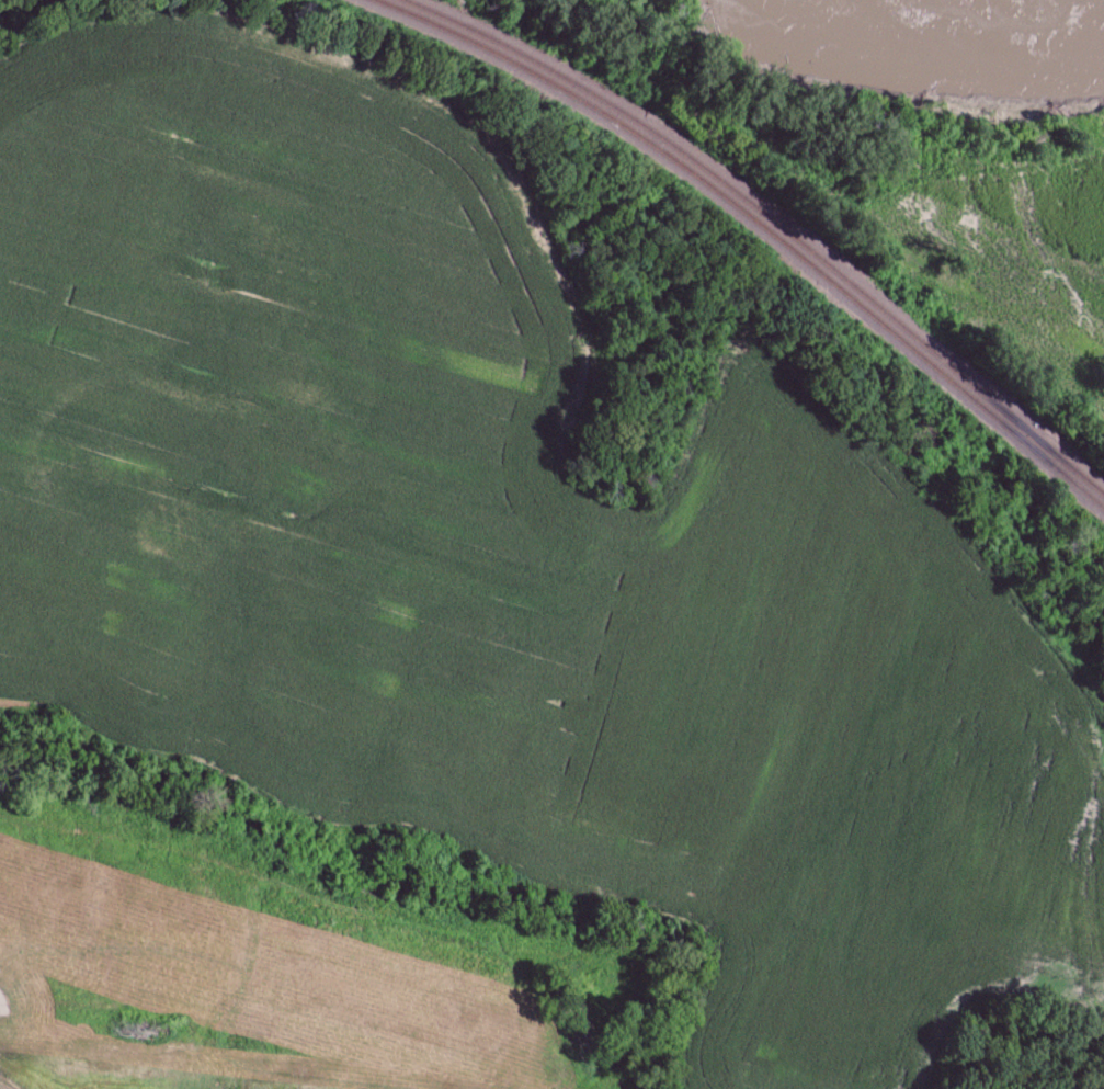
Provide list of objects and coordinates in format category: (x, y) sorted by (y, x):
railway: (772, 223)
railway: (759, 224)

